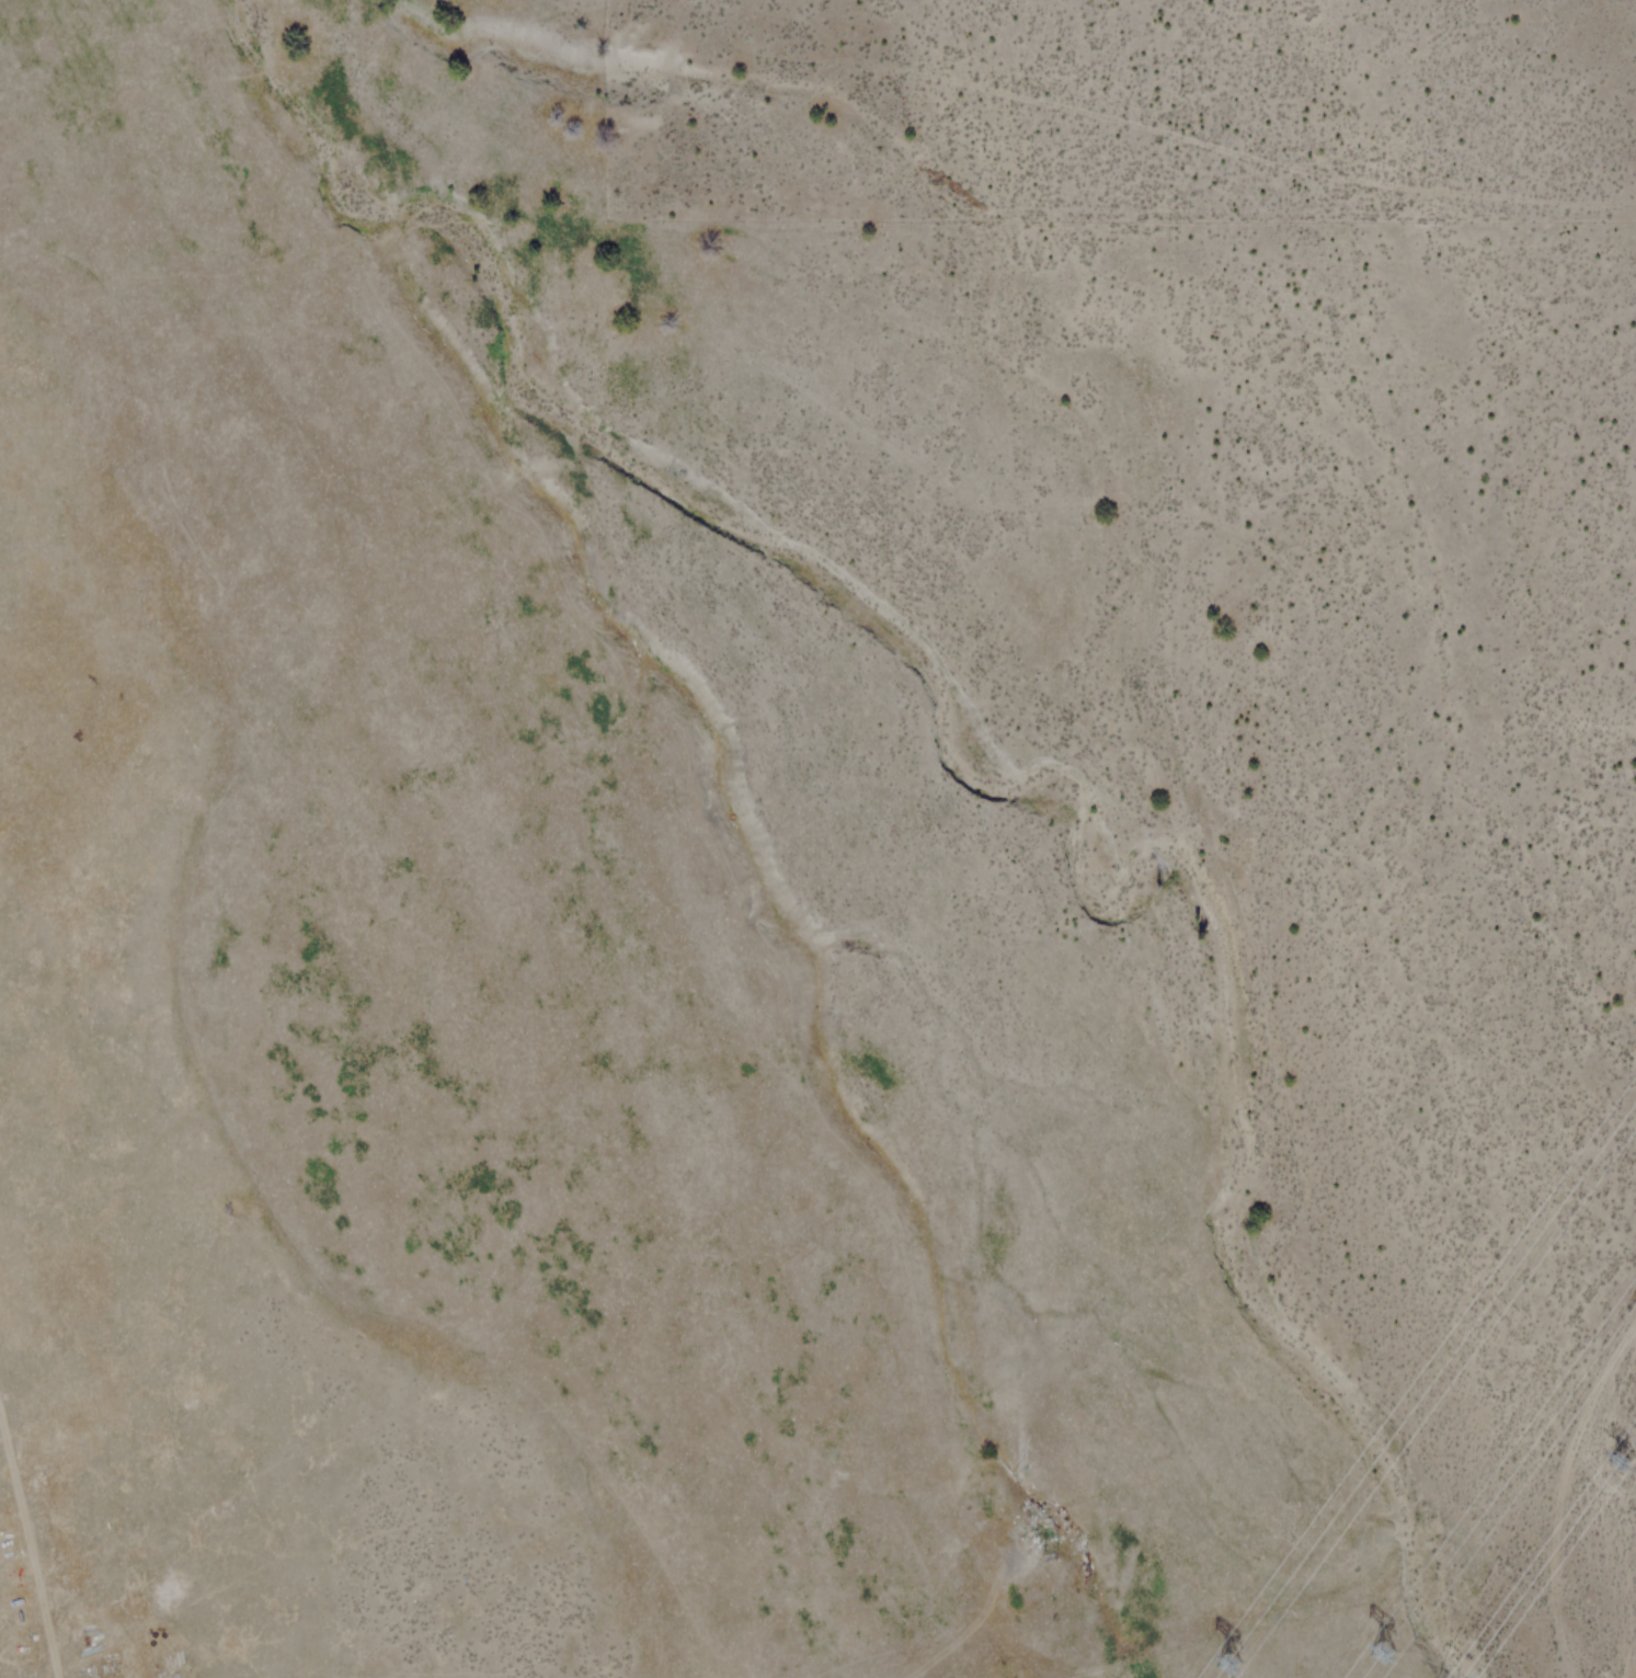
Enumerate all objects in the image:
power tower: (1627, 1462)
power tower: (1395, 1644)
power tower: (1226, 1656)

